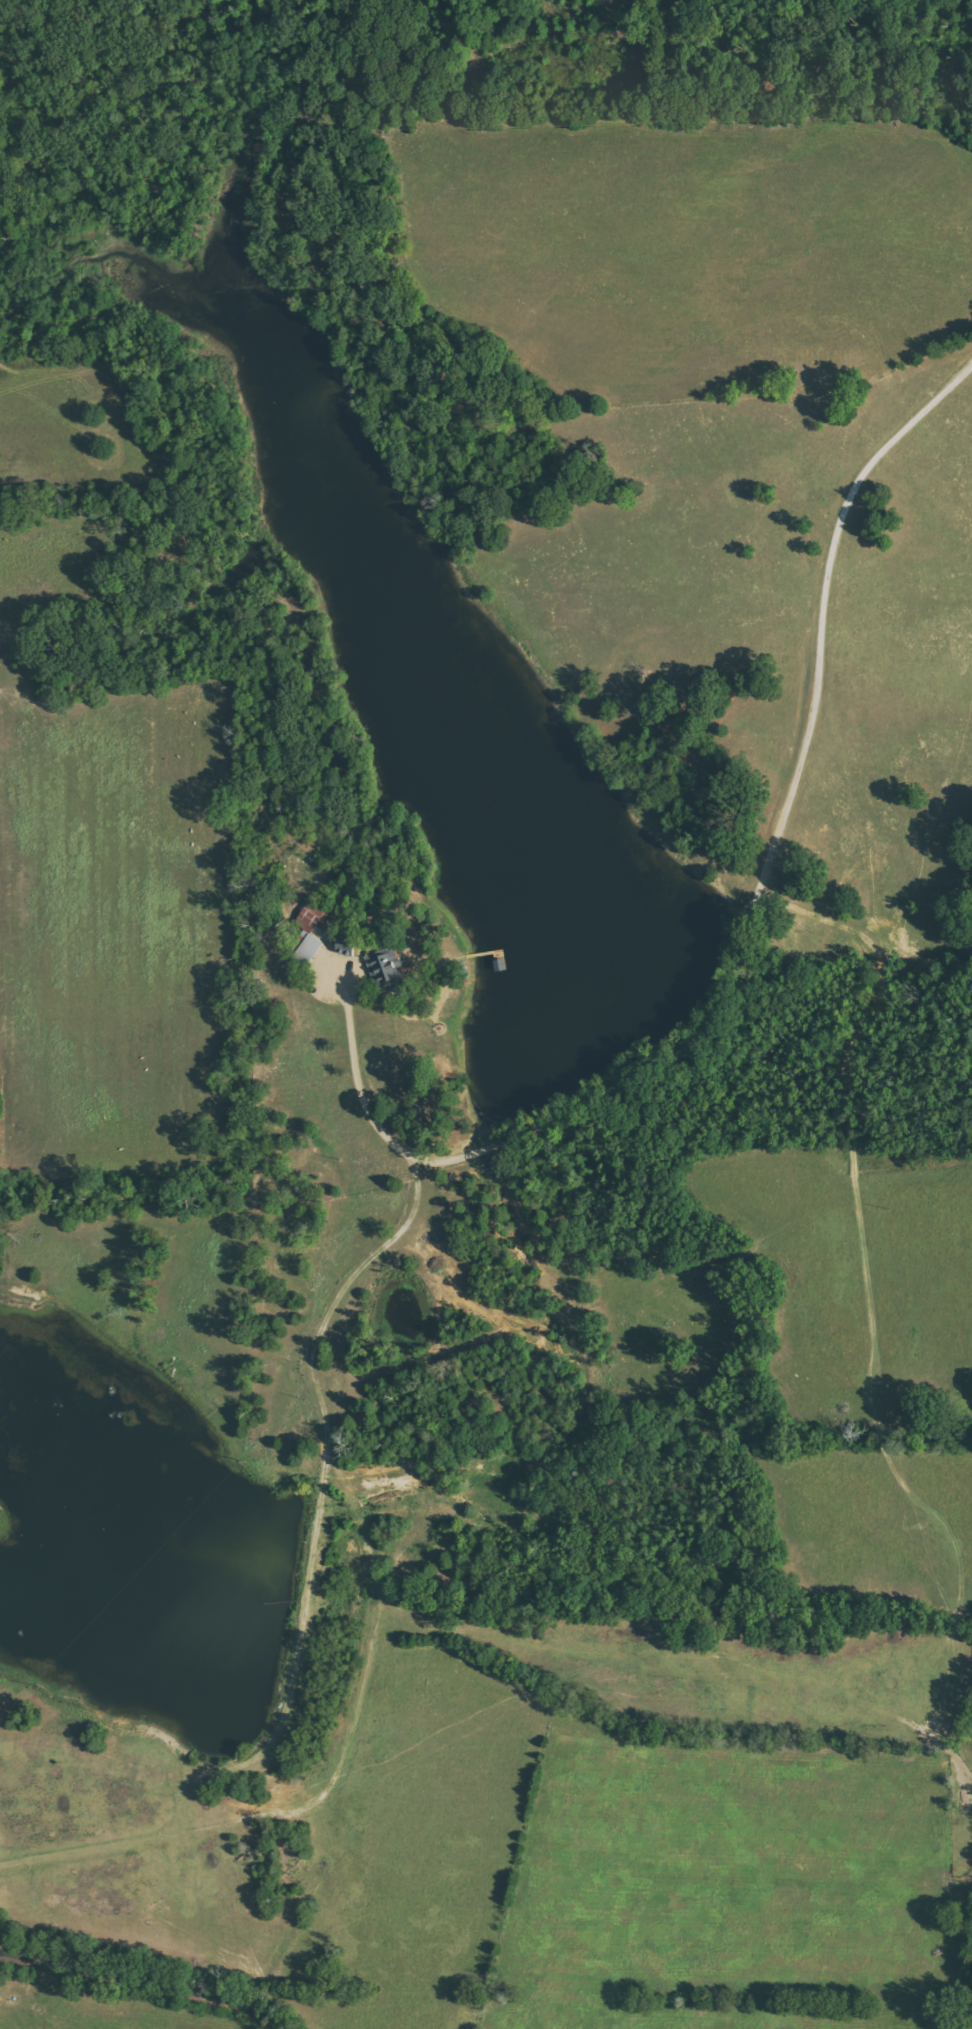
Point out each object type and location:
road: (774, 834)
building: (316, 919)
building: (347, 945)
building: (309, 947)
building: (386, 966)
road: (352, 1073)
road: (845, 1099)
road: (371, 1619)
road: (144, 1976)

